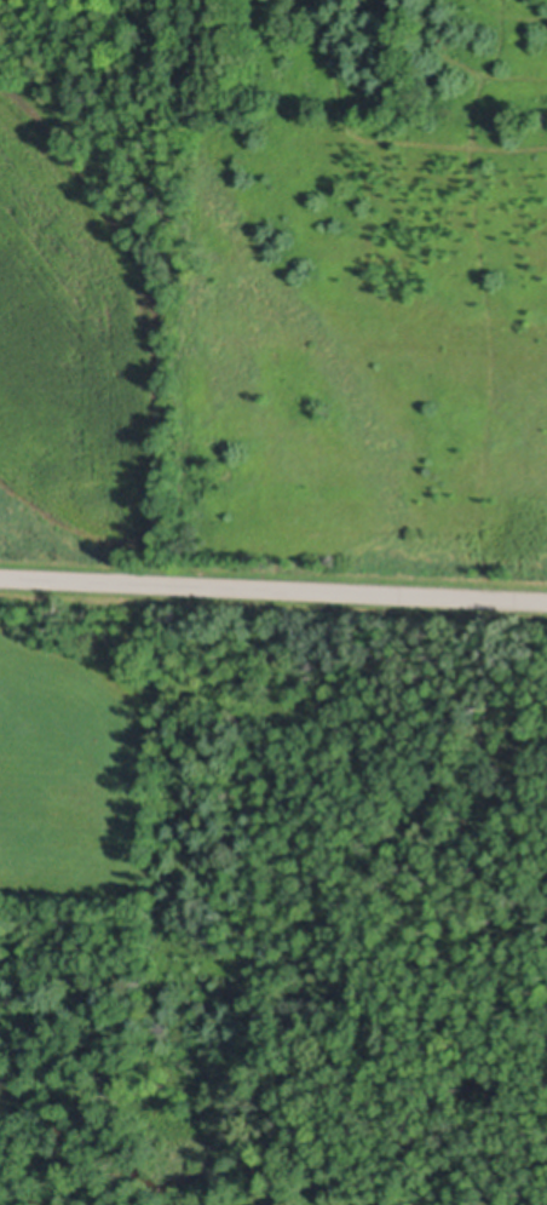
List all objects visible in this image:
road: (273, 590)

